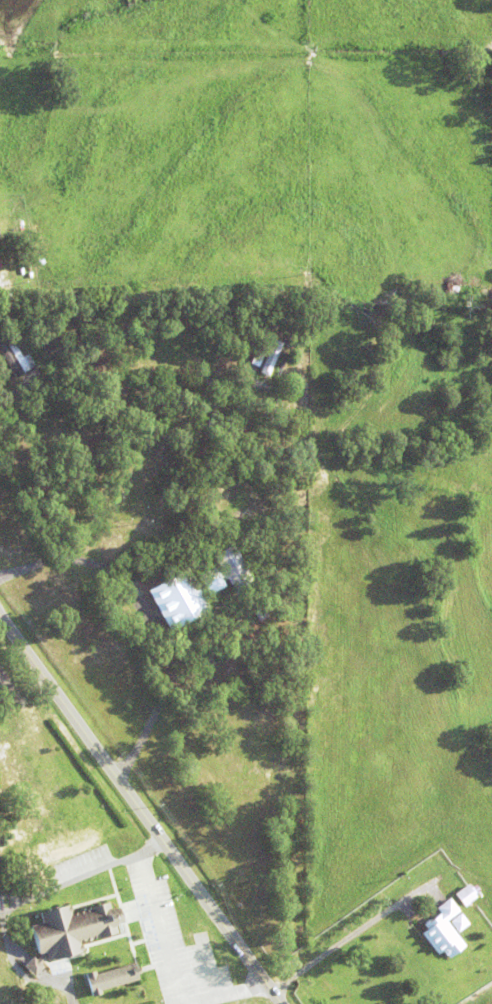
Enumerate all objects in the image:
building: (266, 356)
building: (12, 357)
building: (233, 567)
building: (186, 590)
building: (261, 614)
road: (140, 810)
parking lot: (65, 867)
building: (466, 892)
road: (22, 899)
building: (411, 912)
building: (395, 924)
building: (67, 928)
road: (159, 929)
building: (443, 929)
parking lot: (171, 942)
road: (15, 951)
building: (30, 964)
road: (29, 965)
road: (208, 967)
road: (41, 977)
building: (110, 978)
road: (228, 995)

